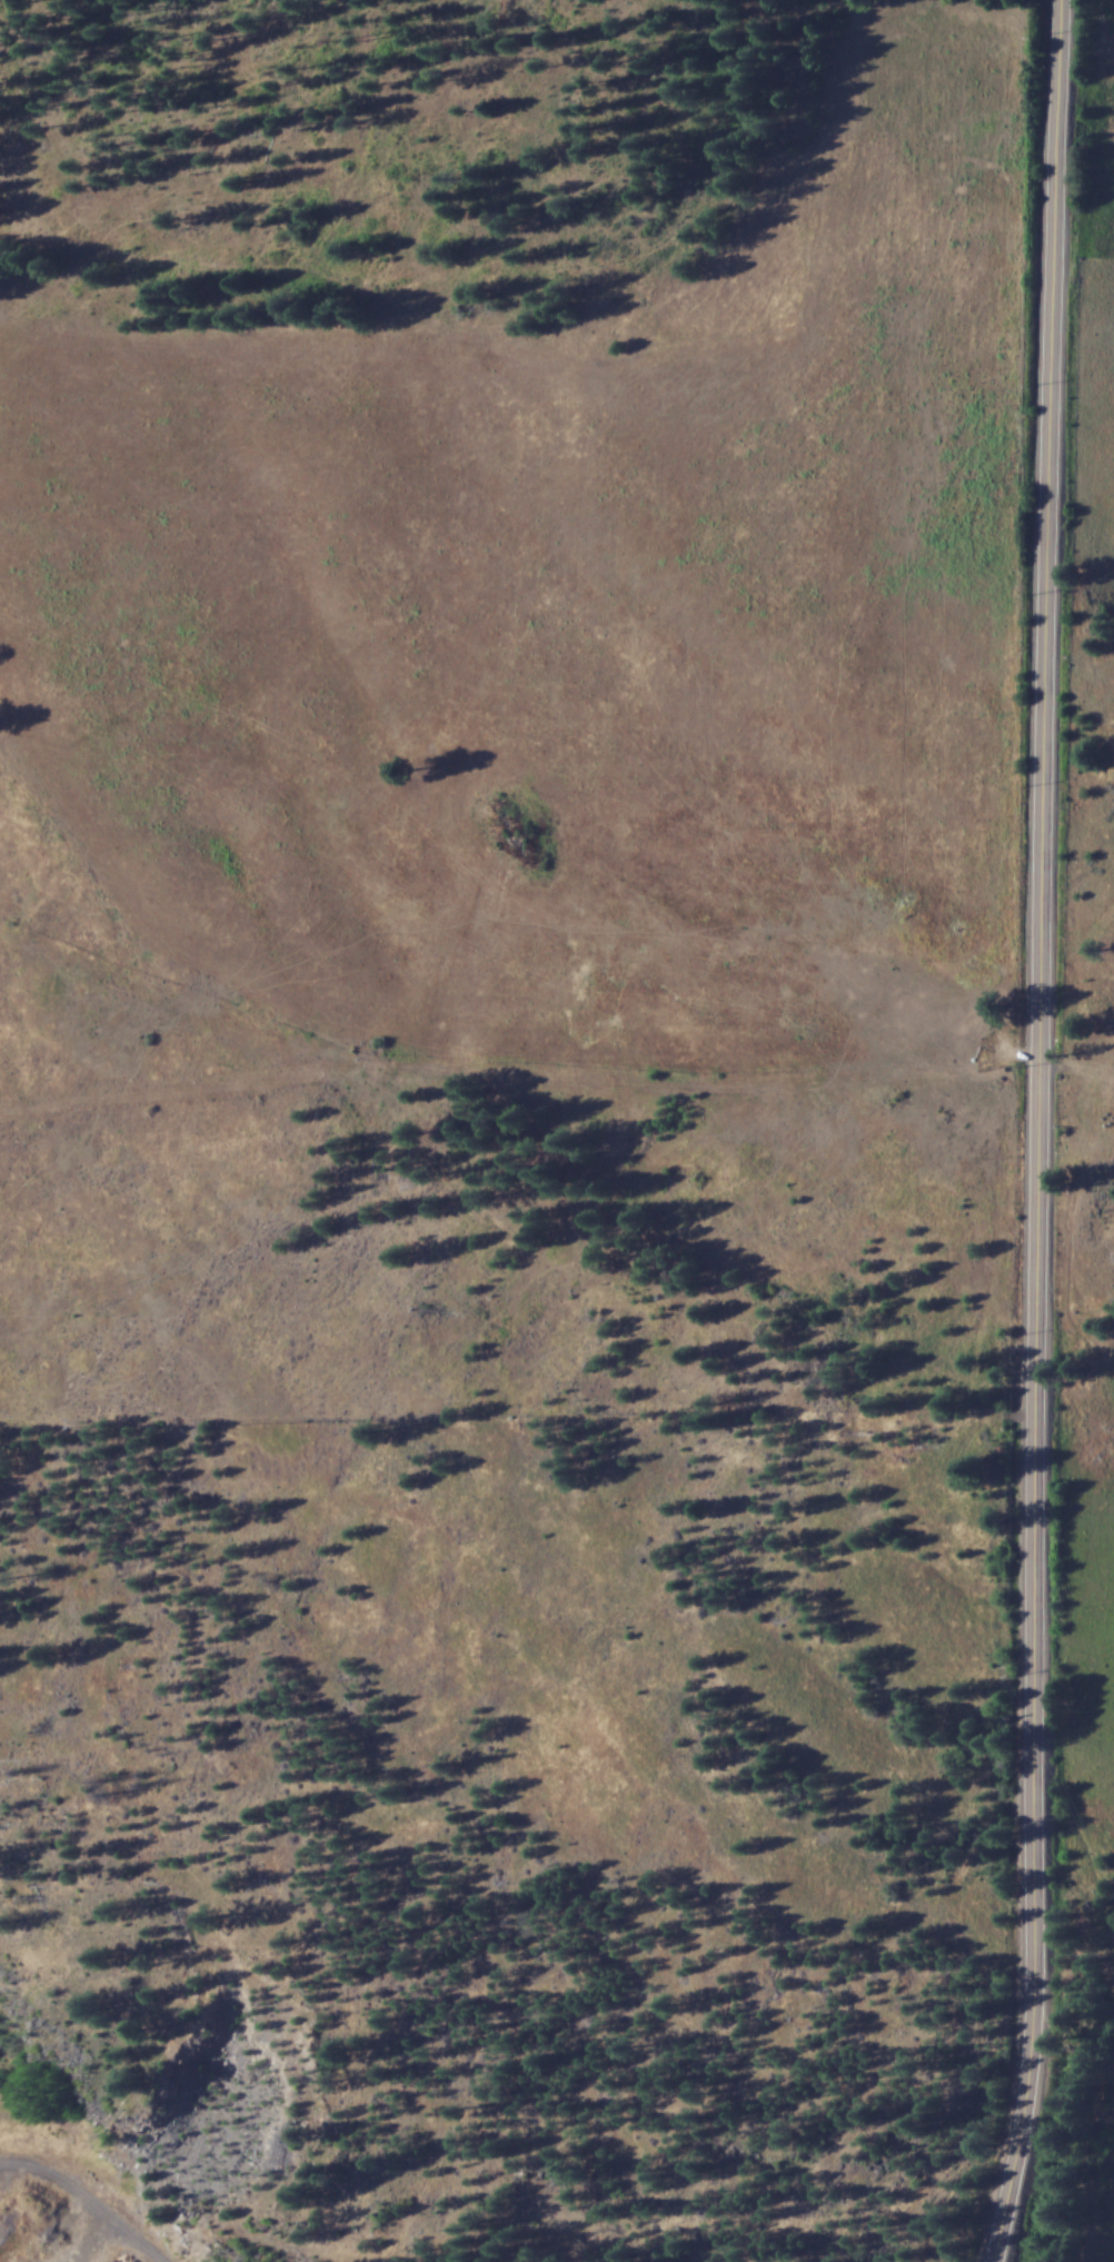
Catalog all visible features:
road: (1031, 1132)
road: (92, 2193)

